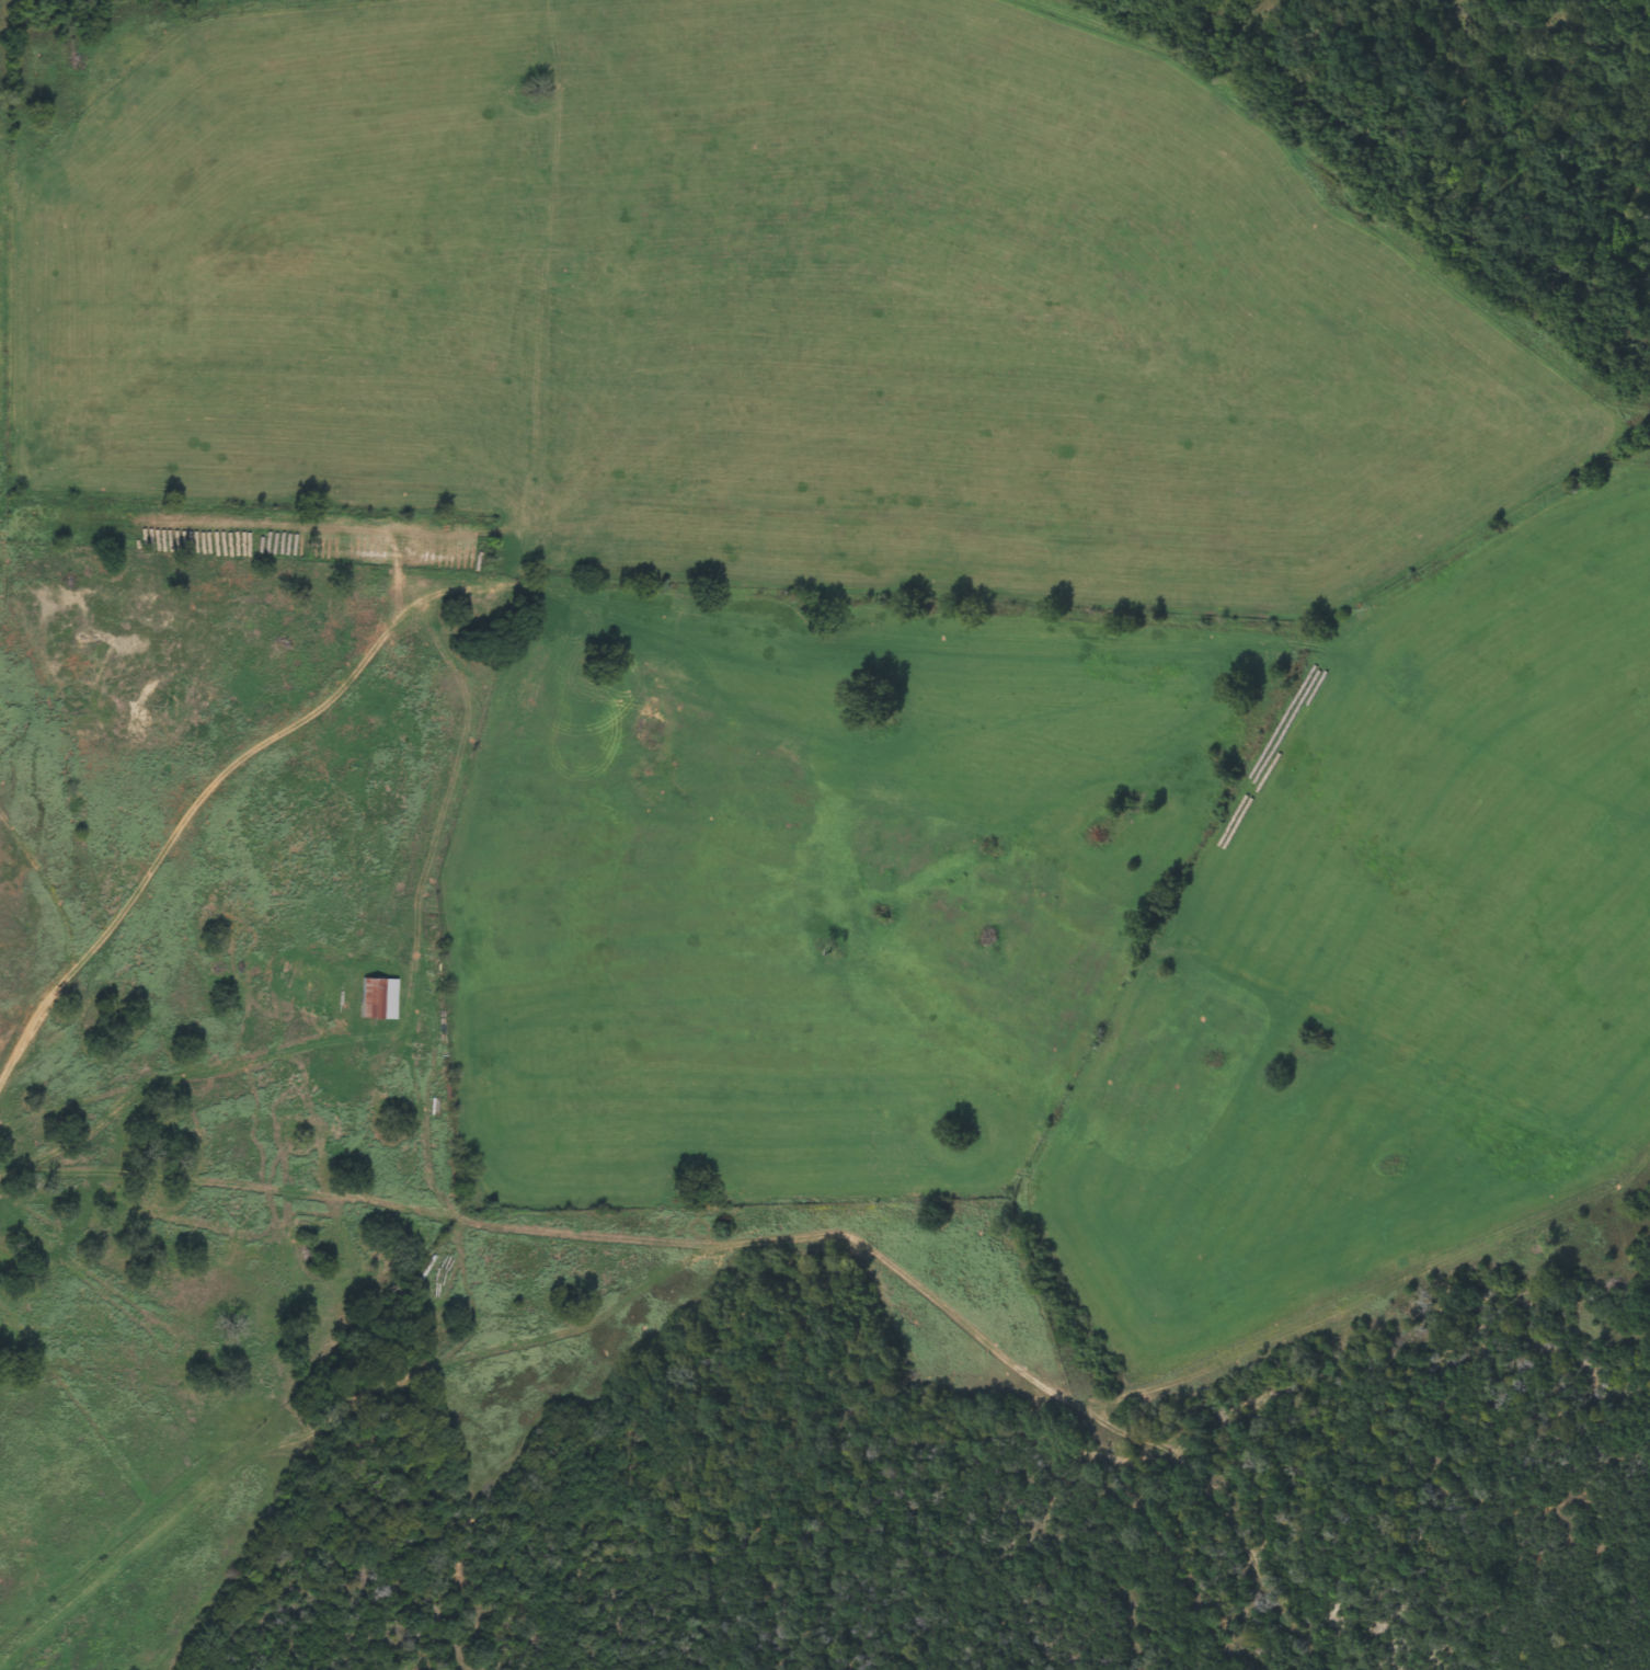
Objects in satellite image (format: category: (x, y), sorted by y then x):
road: (409, 598)
road: (41, 881)
building: (373, 998)

